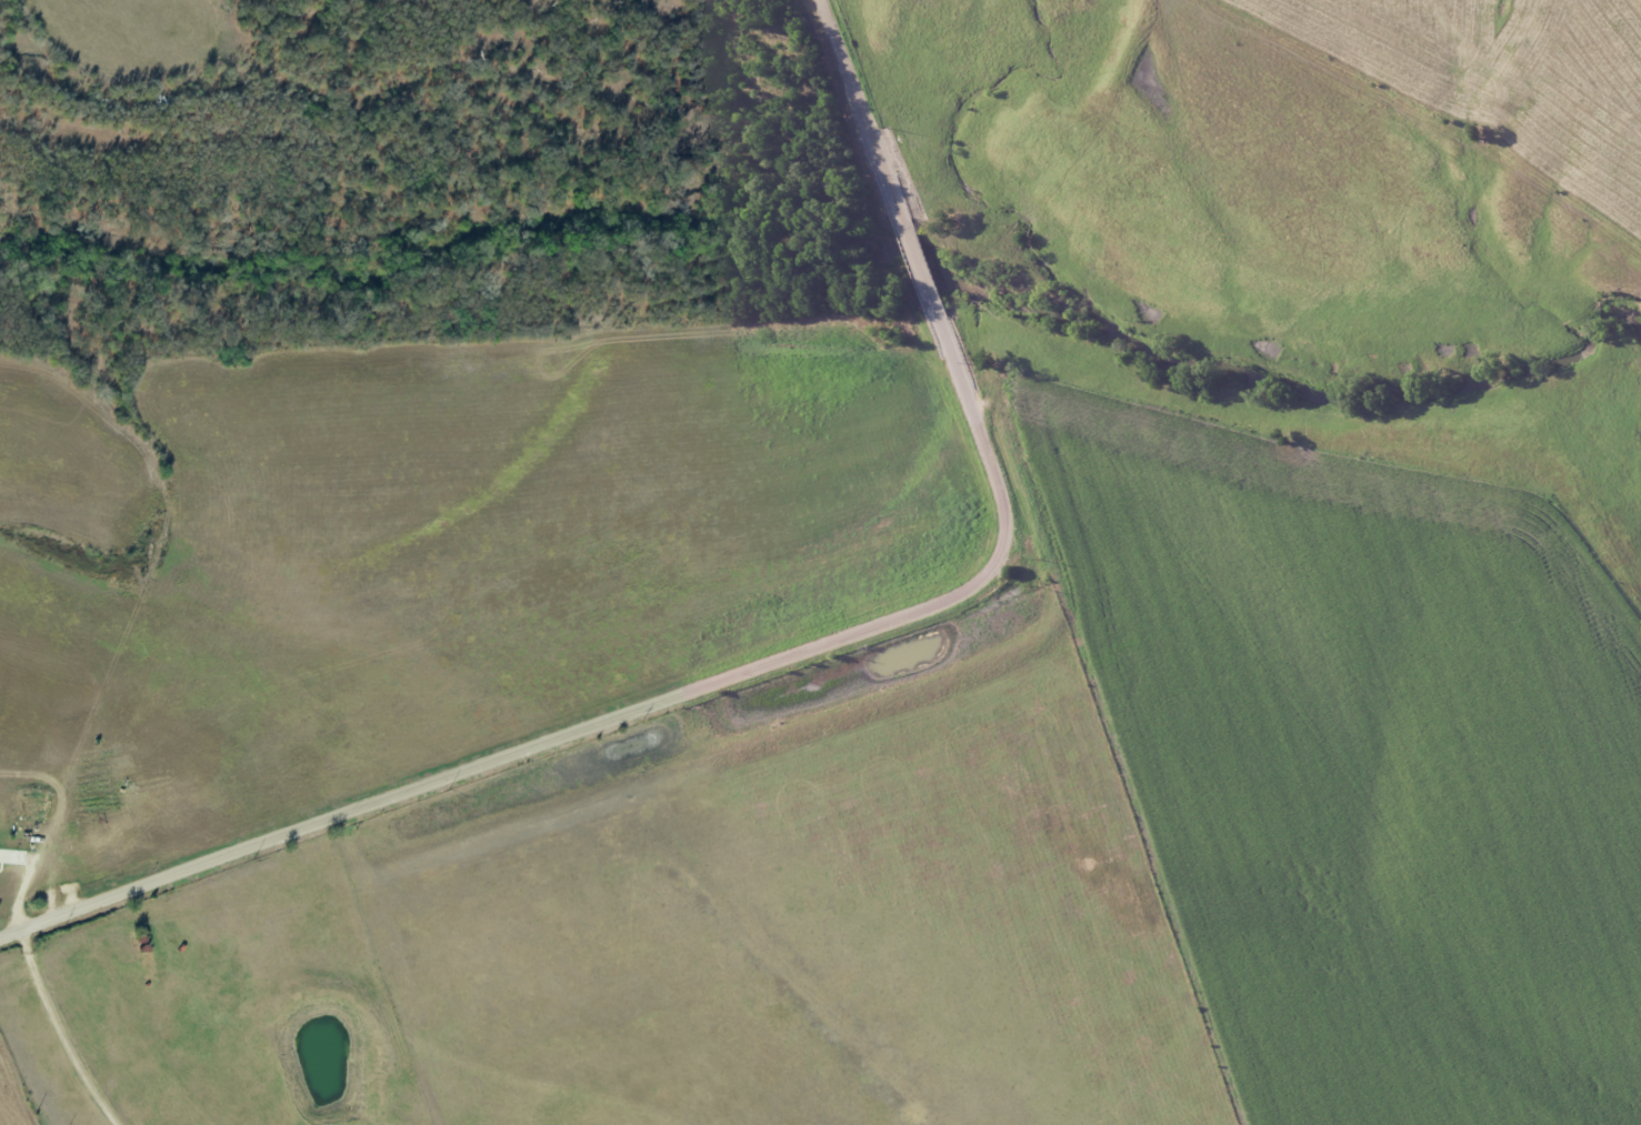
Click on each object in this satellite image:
road: (782, 657)
road: (70, 1032)

